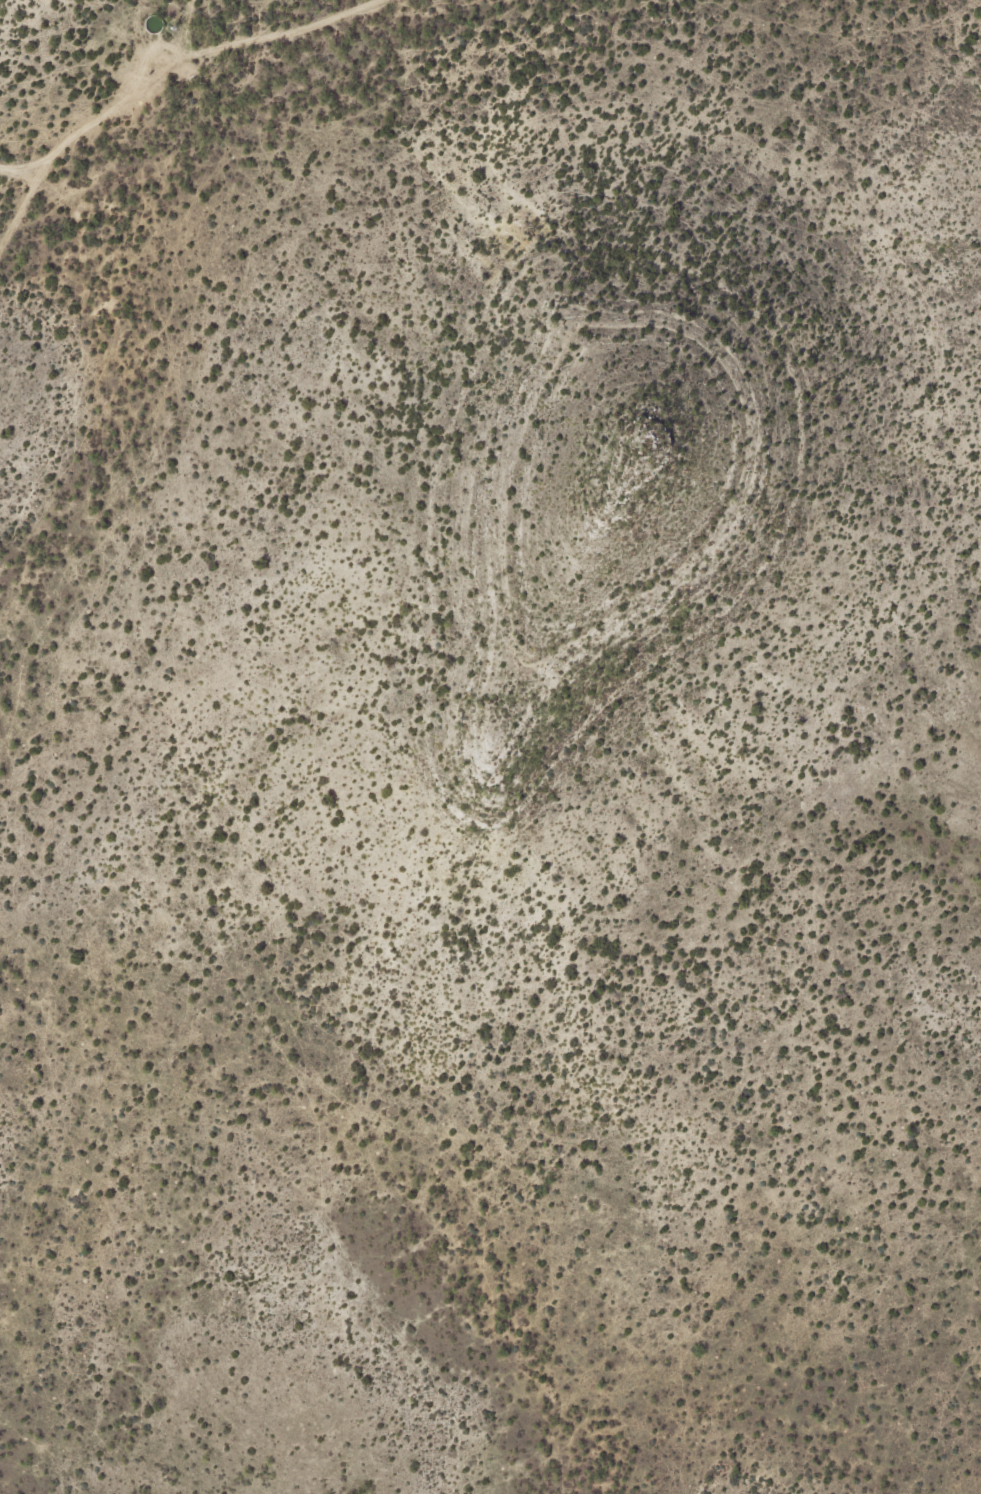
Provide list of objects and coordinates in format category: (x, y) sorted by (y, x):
road: (181, 30)
road: (150, 75)
road: (19, 170)

